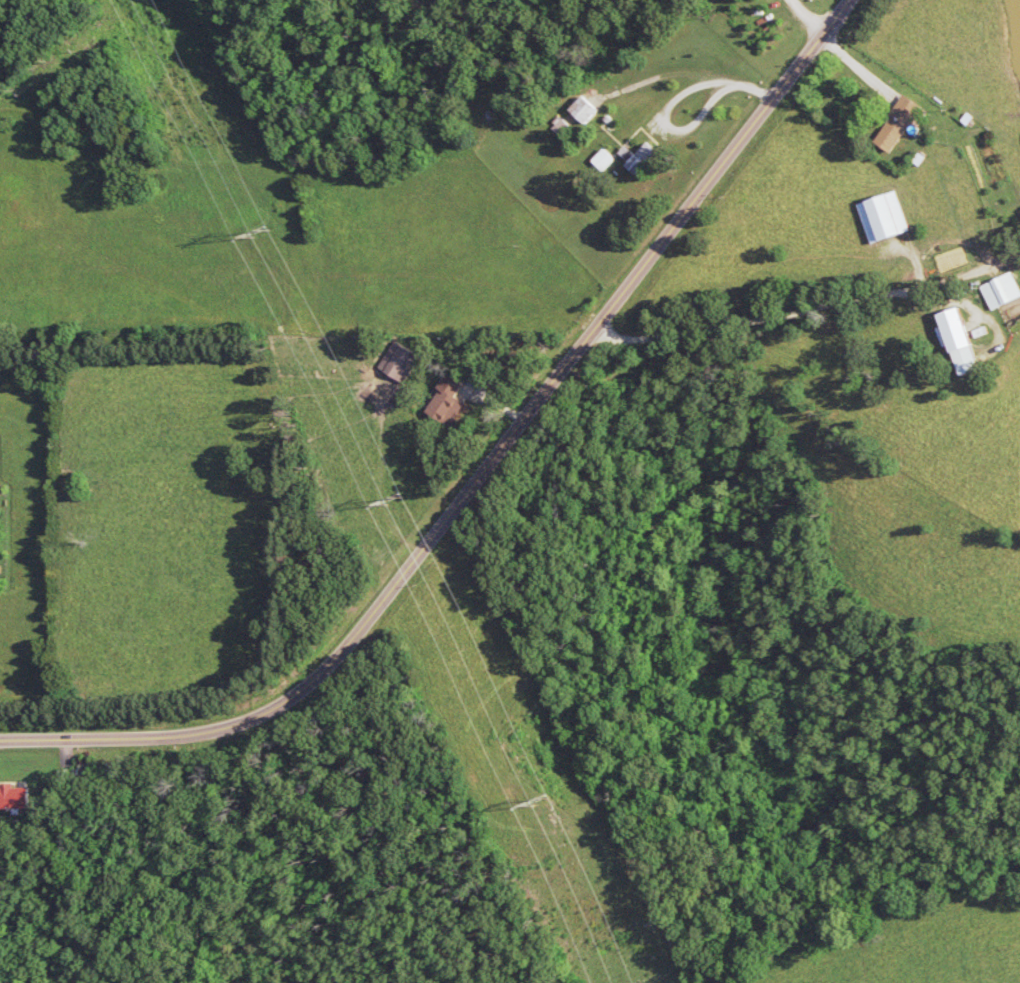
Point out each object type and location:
building: (590, 110)
building: (903, 125)
building: (643, 158)
building: (608, 160)
power tower: (265, 236)
building: (1005, 292)
building: (964, 342)
building: (405, 363)
building: (451, 403)
road: (485, 472)
power tower: (398, 503)
building: (15, 797)
power tower: (554, 806)

